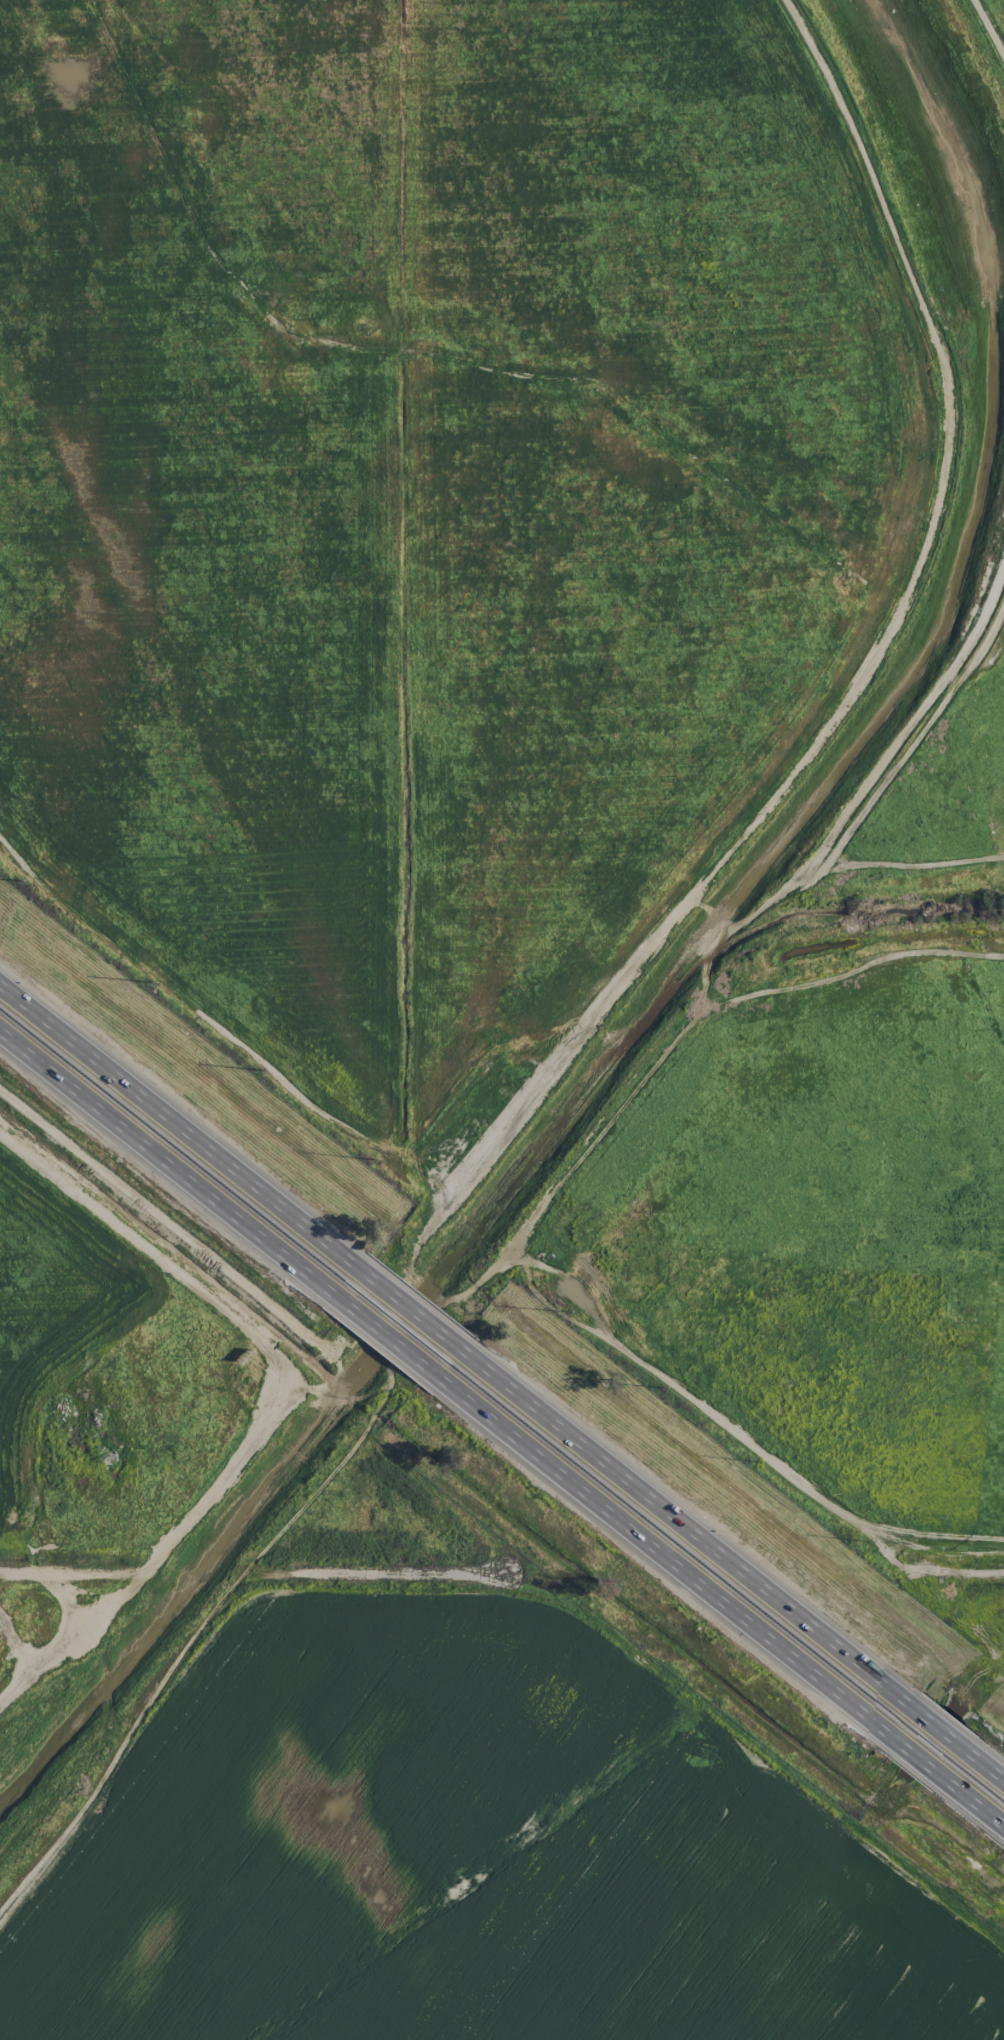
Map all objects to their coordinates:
road: (989, 28)
road: (614, 1105)
road: (176, 1131)
road: (166, 1160)
river: (446, 1260)
road: (406, 1312)
road: (386, 1334)
road: (687, 1533)
road: (668, 1559)
road: (999, 1562)
road: (72, 1573)
road: (937, 1731)
road: (921, 1755)
road: (981, 1766)
road: (973, 1796)

